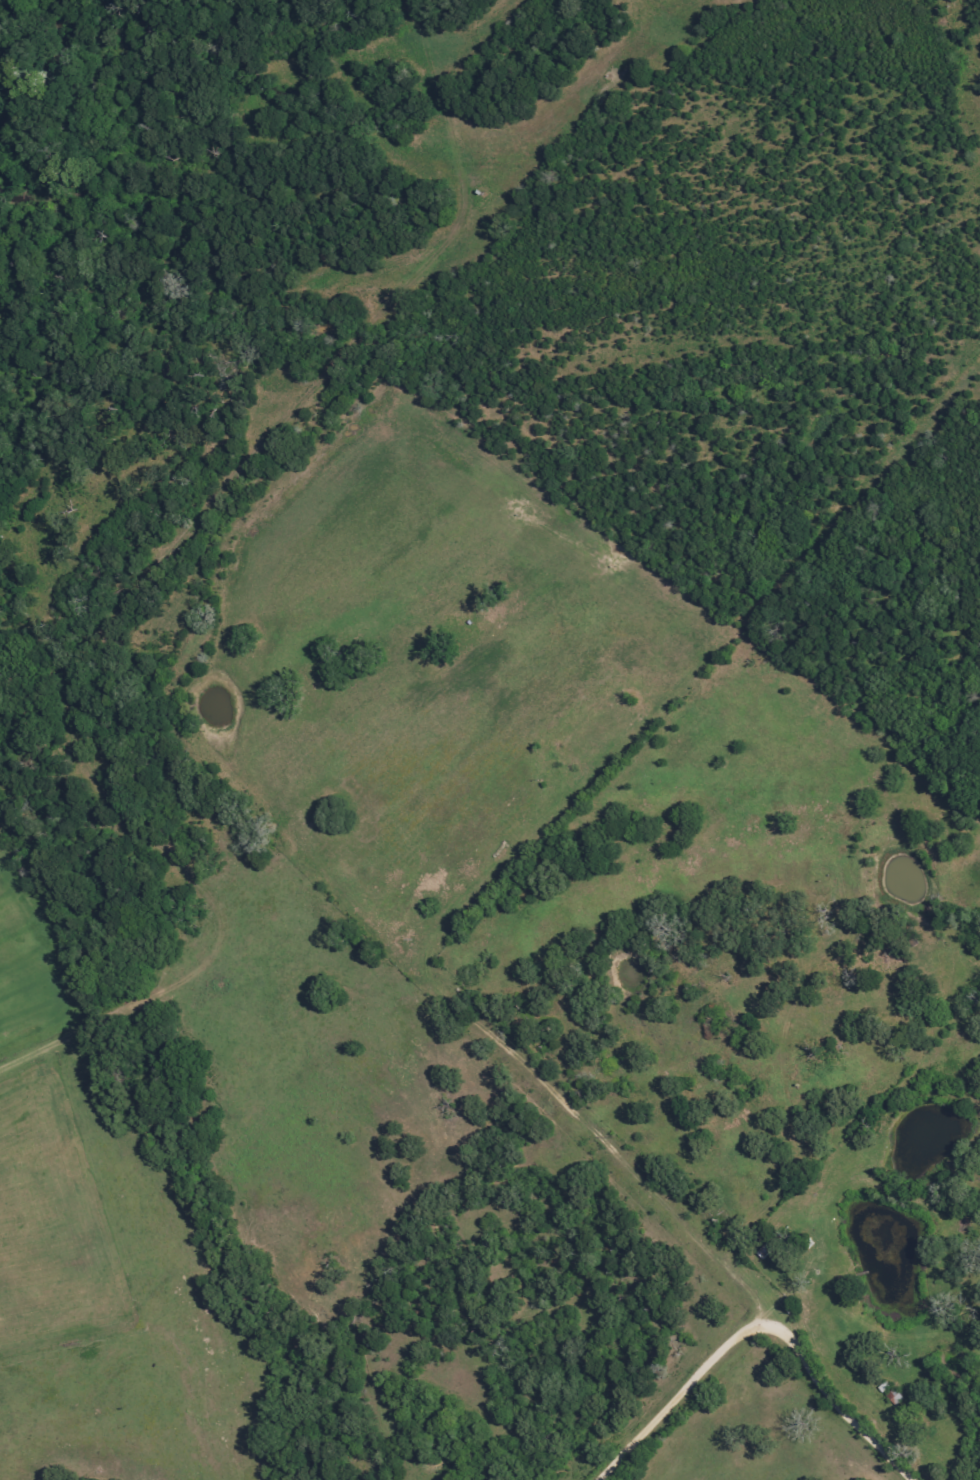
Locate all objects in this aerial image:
road: (470, 1268)
road: (757, 1331)
road: (284, 1366)

